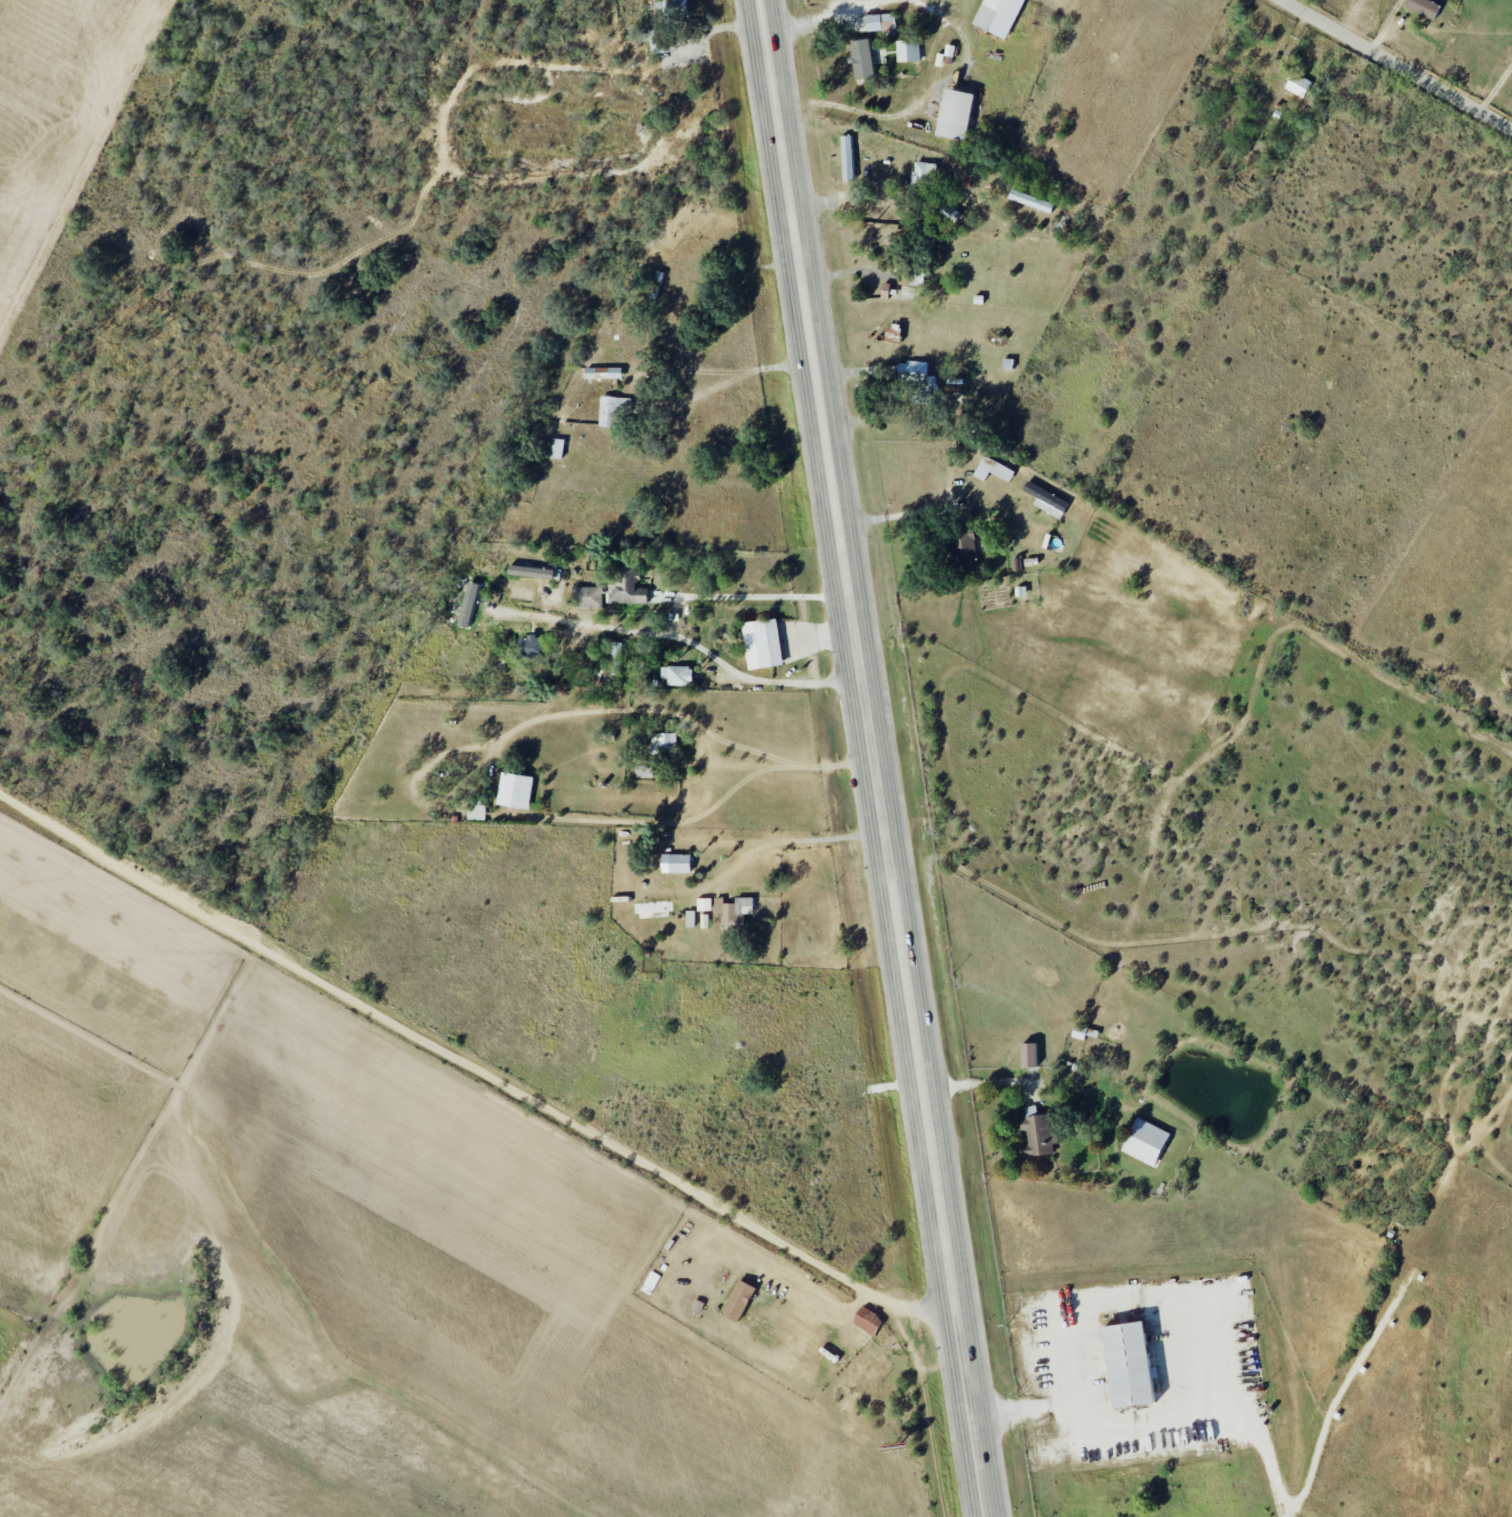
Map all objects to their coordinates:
road: (849, 3)
road: (935, 4)
building: (1424, 7)
road: (822, 16)
building: (998, 16)
building: (881, 21)
building: (656, 41)
building: (908, 50)
building: (950, 50)
building: (862, 58)
road: (1397, 65)
building: (1298, 84)
road: (1495, 88)
road: (913, 106)
building: (954, 114)
building: (847, 157)
building: (925, 172)
road: (842, 196)
building: (1031, 200)
building: (950, 212)
road: (851, 272)
building: (604, 373)
building: (916, 373)
road: (743, 376)
building: (612, 410)
building: (993, 470)
building: (1047, 500)
road: (887, 513)
building: (966, 548)
building: (531, 572)
building: (626, 584)
road: (760, 595)
building: (587, 597)
building: (469, 603)
road: (685, 644)
building: (762, 644)
building: (533, 647)
building: (617, 659)
building: (678, 675)
road: (588, 711)
building: (664, 741)
road: (877, 758)
road: (721, 764)
road: (706, 790)
building: (515, 791)
road: (724, 799)
building: (477, 812)
road: (796, 840)
building: (676, 864)
building: (704, 904)
building: (733, 910)
building: (690, 919)
building: (1030, 1054)
road: (475, 1071)
road: (981, 1079)
building: (1038, 1132)
building: (1145, 1141)
road: (1157, 1294)
building: (738, 1301)
building: (698, 1306)
building: (868, 1321)
building: (1127, 1365)
road: (1260, 1435)
road: (1297, 1510)
road: (1283, 1511)

